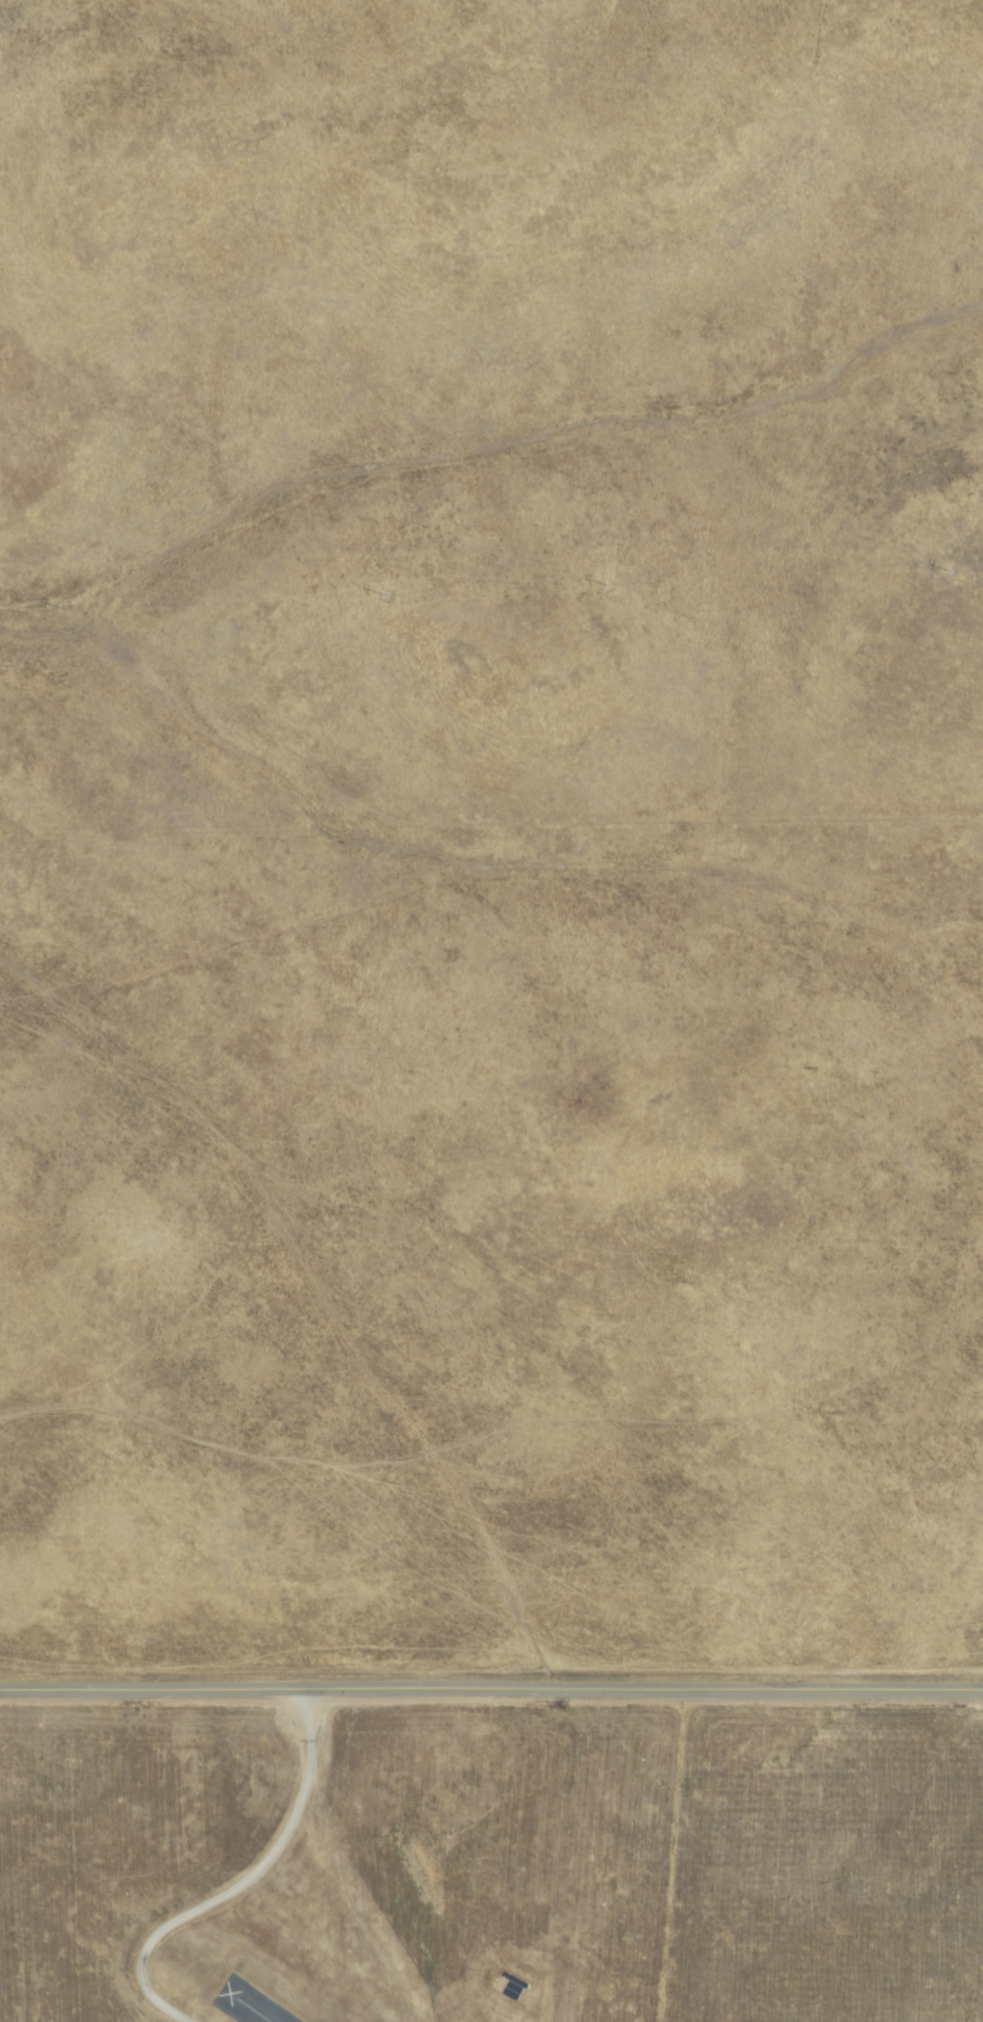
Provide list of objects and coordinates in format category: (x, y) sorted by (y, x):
road: (491, 1690)
road: (239, 1884)

